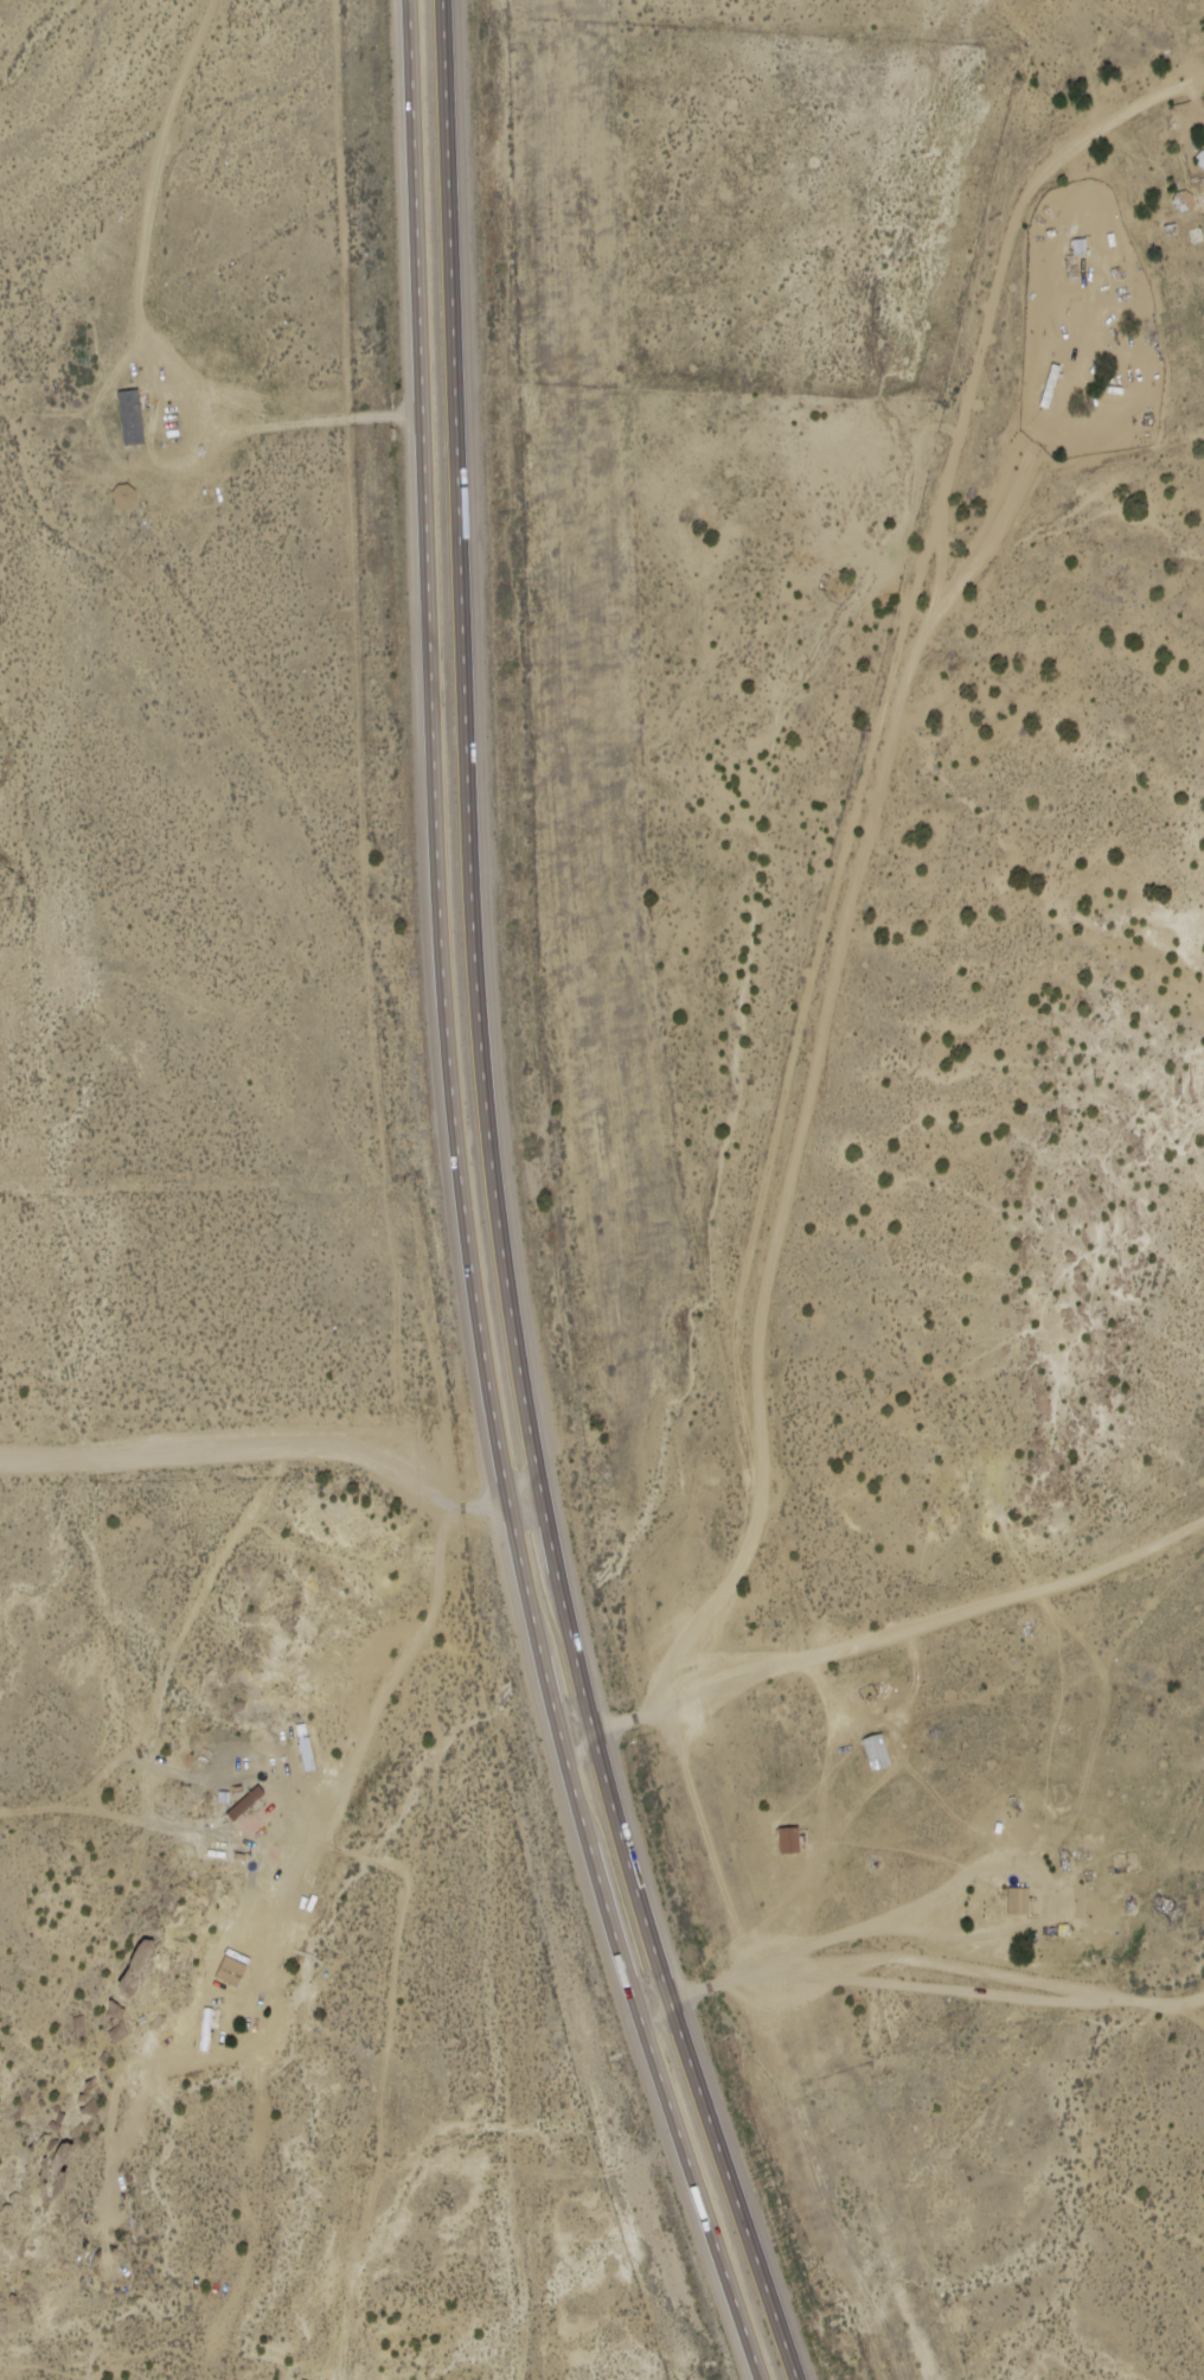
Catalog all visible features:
road: (1202, 63)
building: (132, 417)
road: (869, 853)
road: (468, 1208)
road: (501, 1208)
road: (280, 1448)
road: (895, 1655)
building: (870, 1753)
road: (326, 1823)
building: (790, 1839)
road: (282, 1925)
road: (923, 1963)
road: (1197, 2016)

